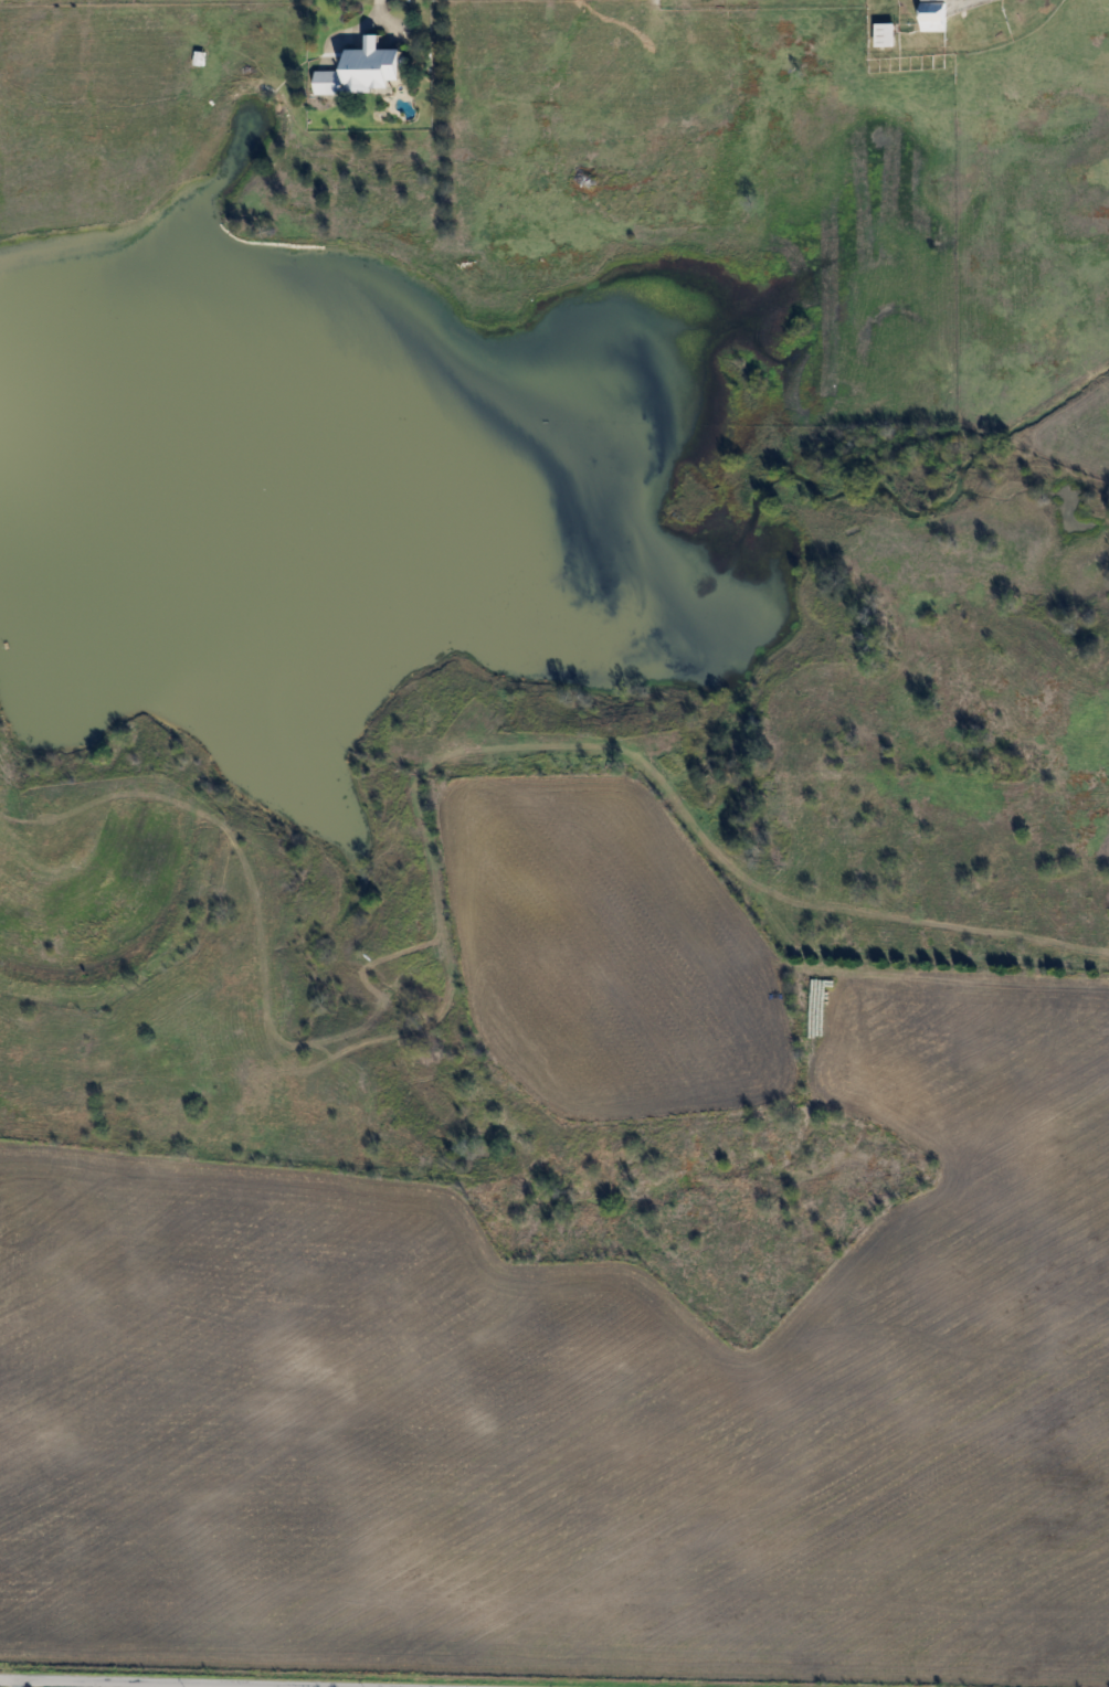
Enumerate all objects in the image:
building: (933, 14)
building: (886, 33)
building: (367, 70)
road: (98, 1684)

